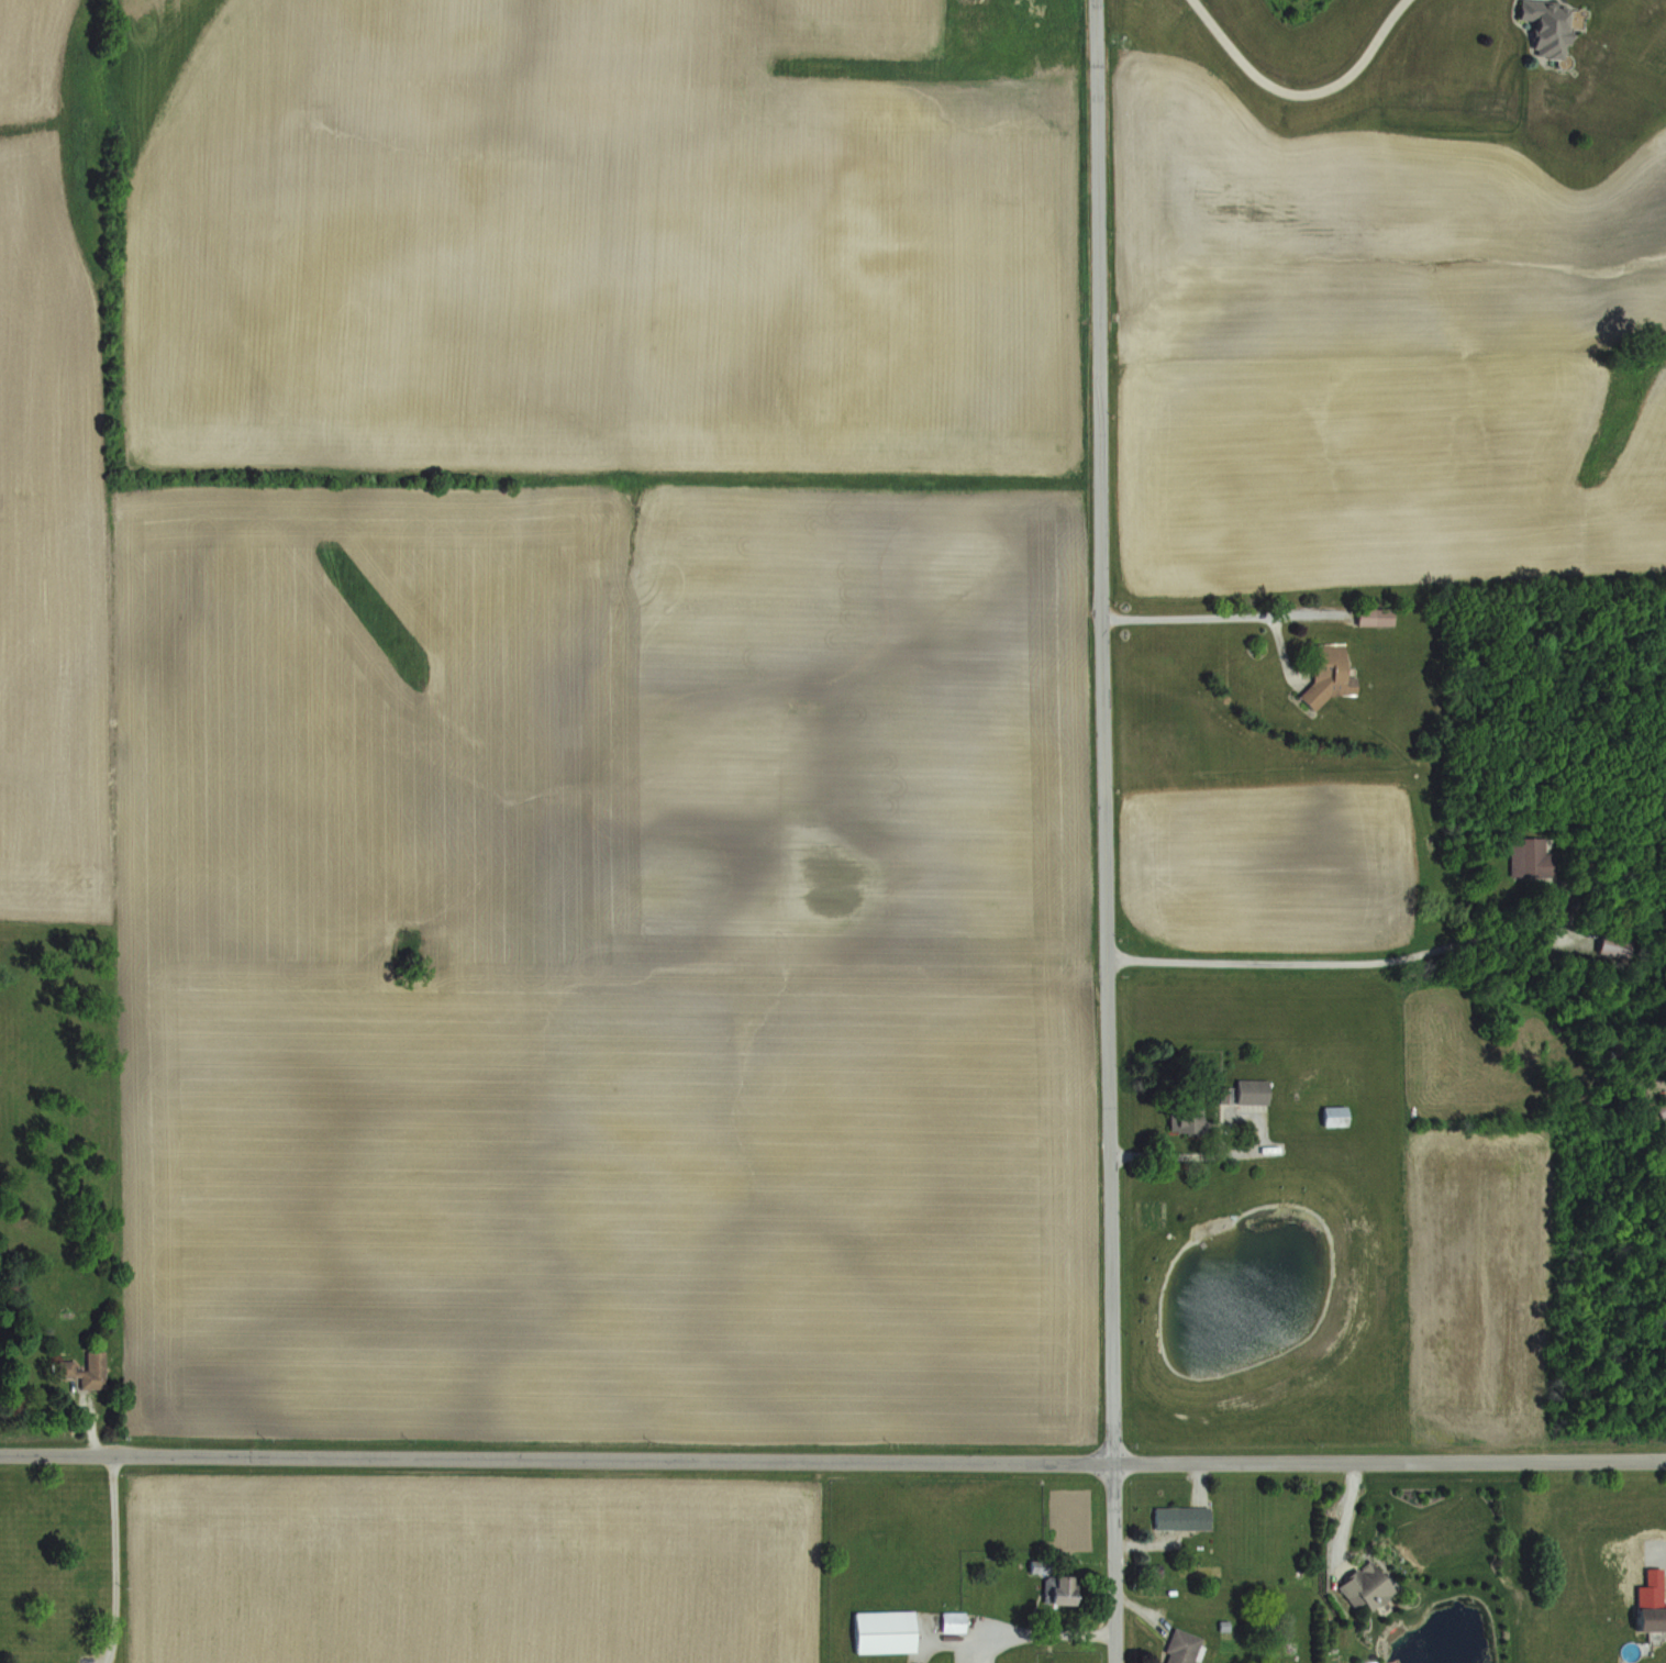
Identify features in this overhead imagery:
building: (1554, 26)
road: (1299, 92)
road: (1211, 610)
building: (1379, 617)
road: (1104, 831)
building: (1537, 857)
building: (1622, 945)
road: (1323, 962)
building: (1255, 1090)
building: (1339, 1116)
building: (1191, 1118)
road: (1177, 1153)
building: (90, 1371)
road: (832, 1459)
building: (1186, 1518)
road: (115, 1557)
building: (1371, 1586)
building: (1065, 1589)
building: (1656, 1618)
building: (890, 1631)
road: (1030, 1632)
building: (1186, 1647)
building: (49, 1661)

